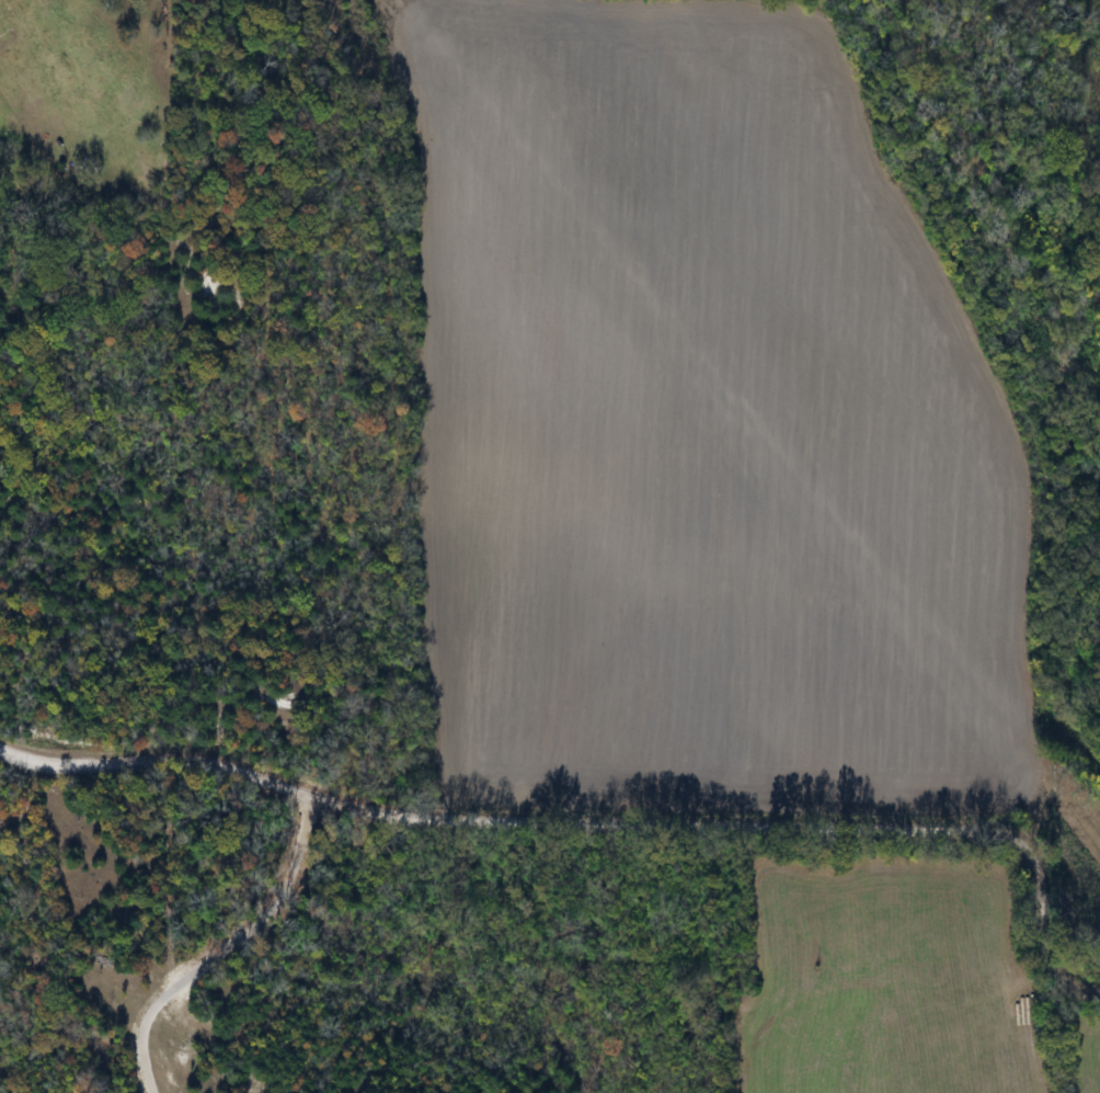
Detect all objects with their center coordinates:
road: (599, 821)
road: (224, 950)

